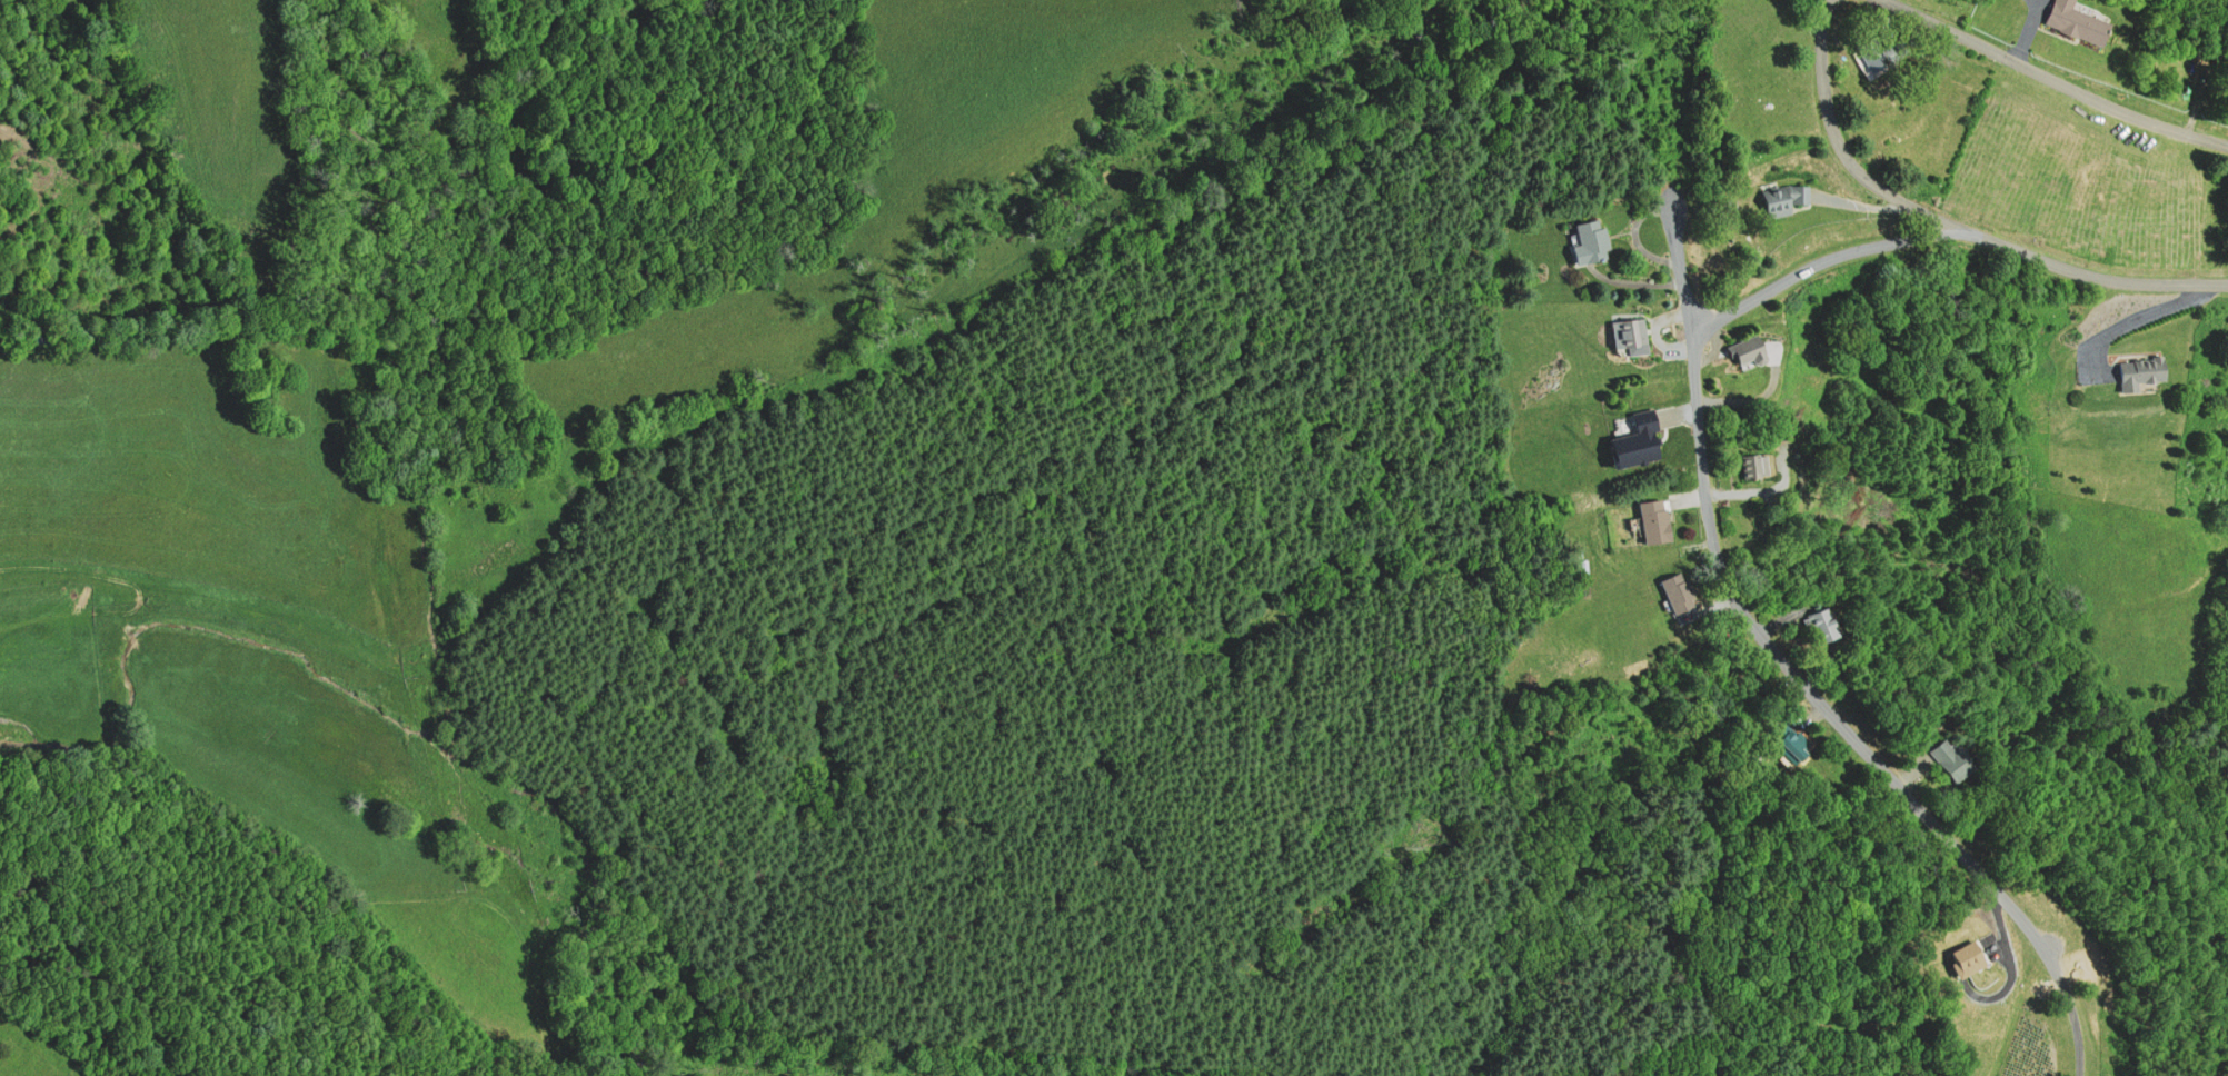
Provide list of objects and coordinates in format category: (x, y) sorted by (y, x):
building: (2081, 23)
building: (1876, 59)
road: (2050, 80)
building: (1788, 201)
road: (1950, 220)
building: (1592, 242)
road: (1821, 263)
building: (1633, 333)
building: (1753, 351)
building: (2146, 373)
building: (1759, 467)
building: (1657, 522)
building: (1826, 629)
road: (1789, 669)
building: (1800, 746)
building: (1953, 760)

